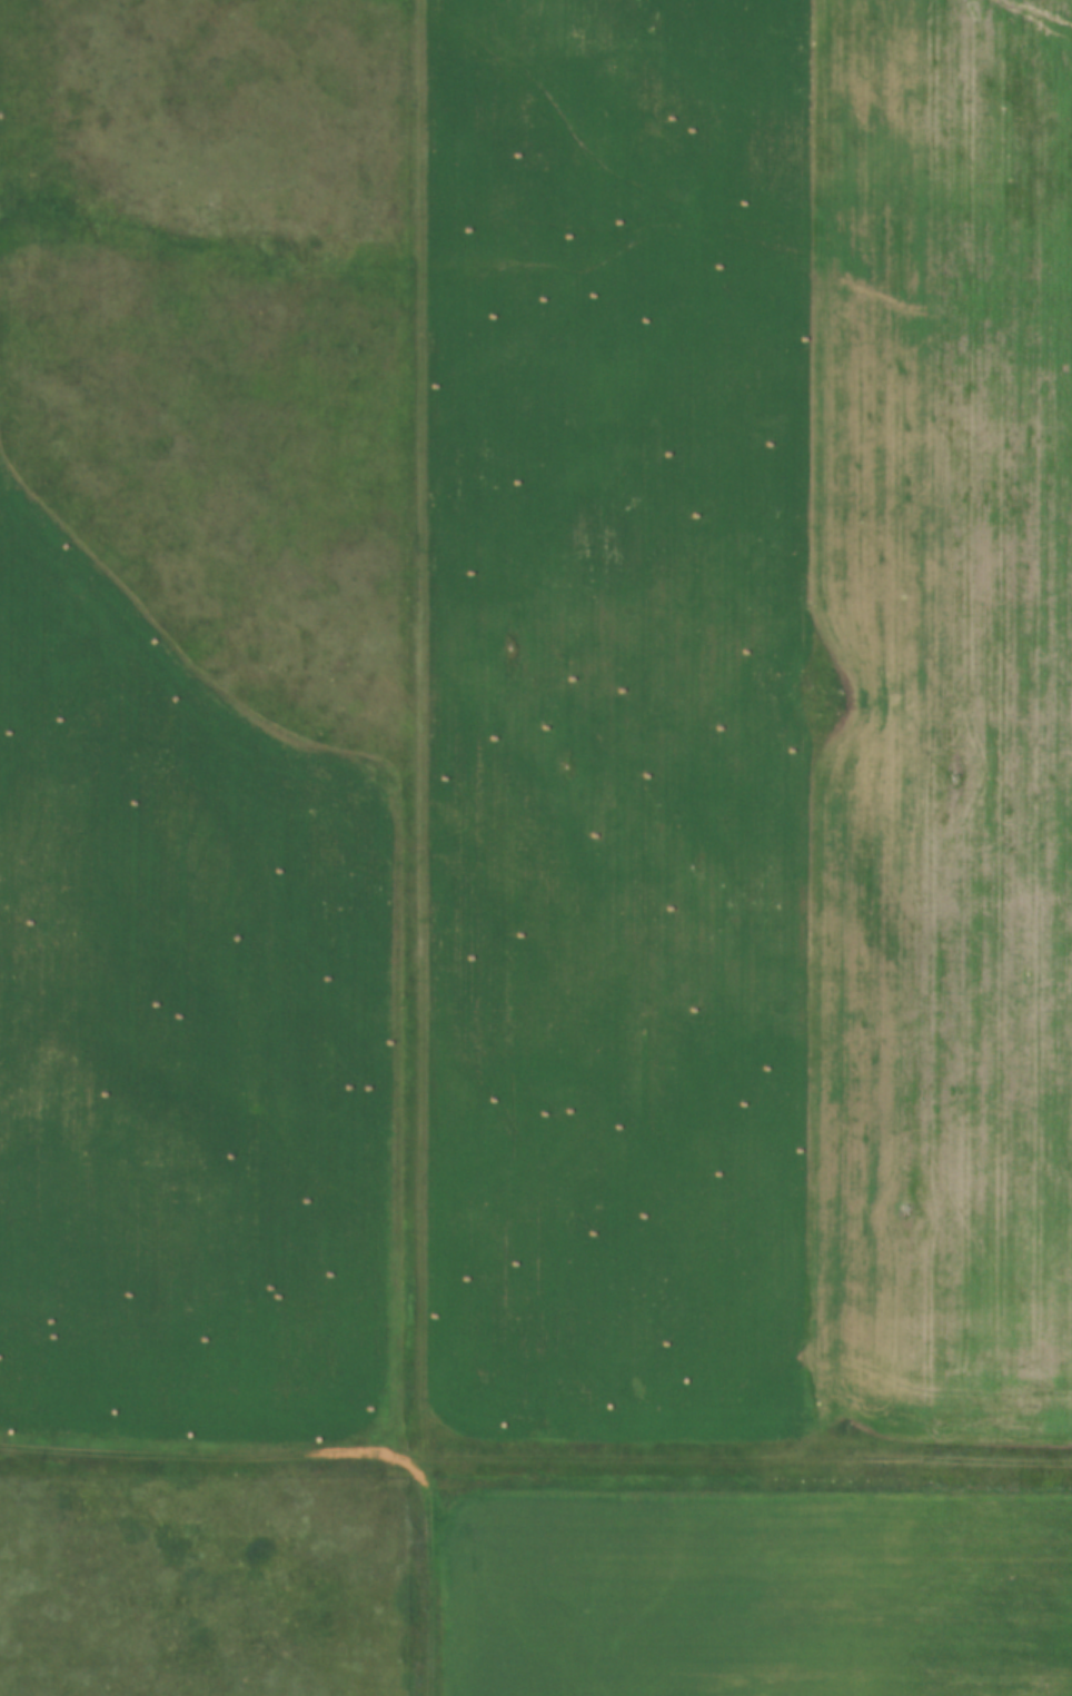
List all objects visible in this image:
road: (317, 1475)

